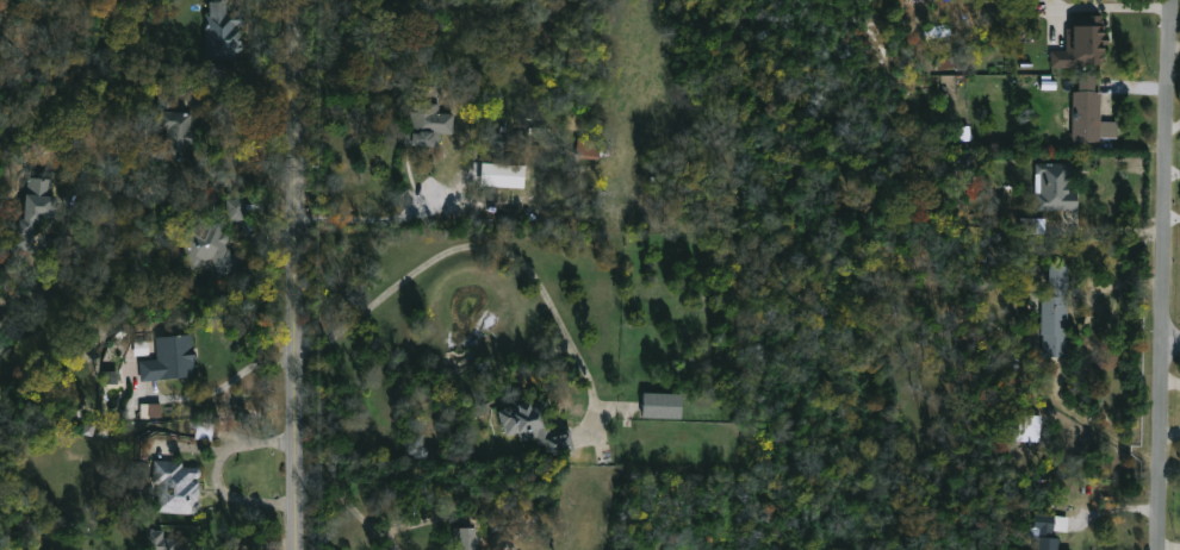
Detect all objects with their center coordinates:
road: (1098, 4)
building: (223, 30)
road: (1169, 36)
building: (1085, 43)
building: (1089, 80)
building: (1089, 114)
building: (427, 120)
building: (176, 132)
building: (588, 149)
building: (502, 174)
road: (210, 182)
building: (1058, 186)
building: (36, 205)
building: (236, 210)
road: (365, 218)
road: (1110, 229)
road: (471, 243)
building: (217, 249)
road: (299, 275)
road: (1165, 311)
building: (1058, 312)
road: (1172, 342)
building: (173, 357)
road: (231, 376)
building: (664, 404)
building: (150, 410)
building: (535, 426)
road: (1095, 427)
building: (1030, 429)
building: (203, 430)
road: (216, 473)
building: (179, 486)
building: (1049, 519)
building: (470, 538)
building: (166, 540)
building: (1052, 543)
road: (1170, 543)
road: (271, 545)

